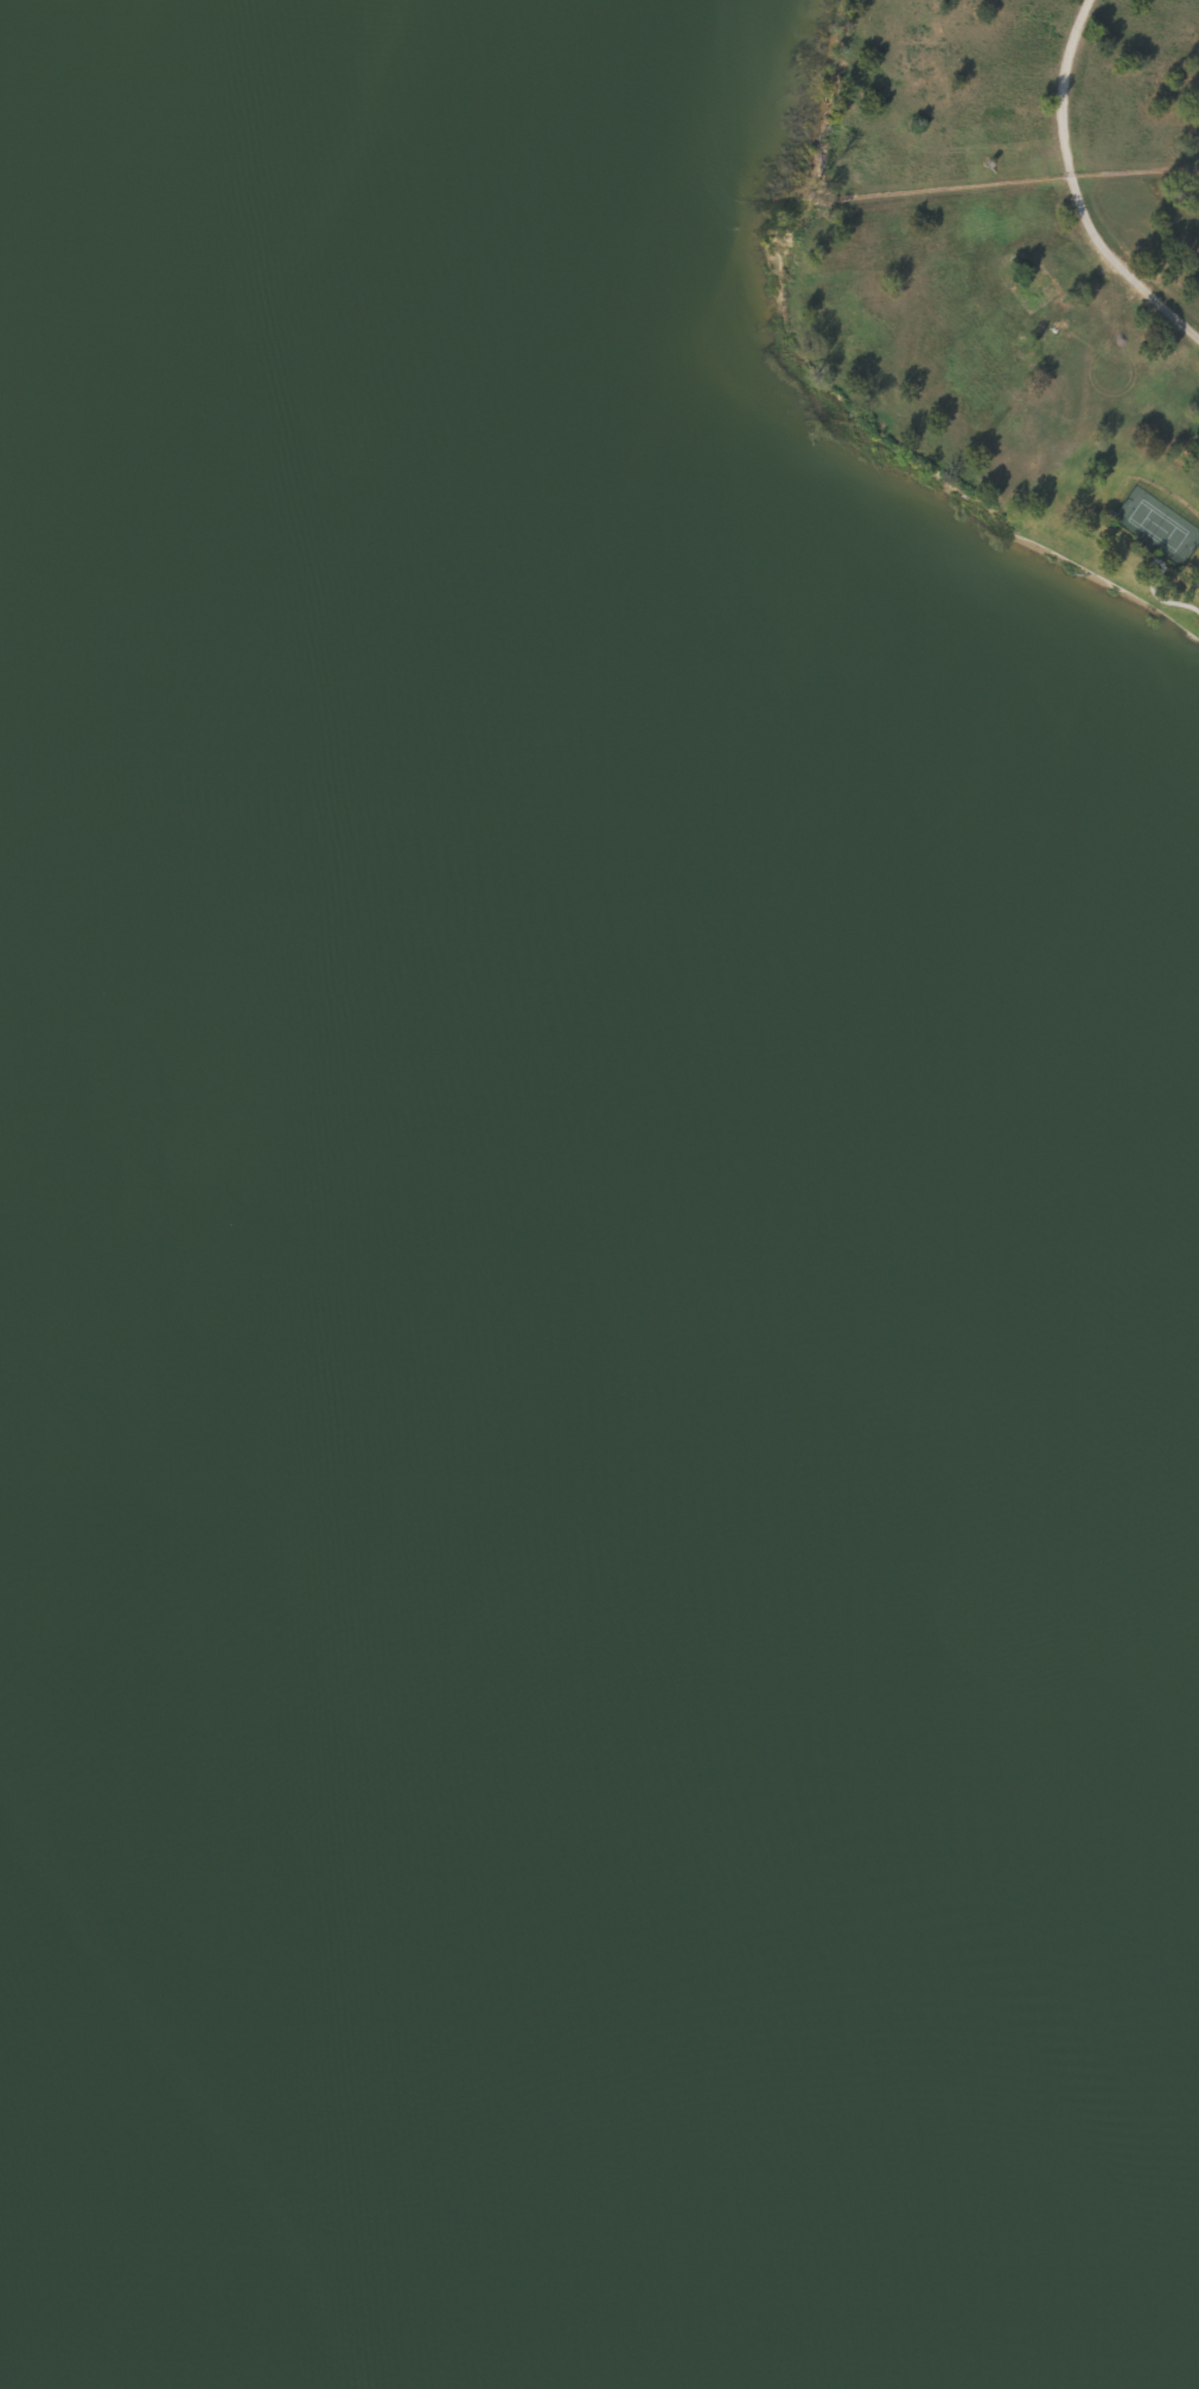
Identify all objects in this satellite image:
road: (1074, 189)
park: (1156, 525)
road: (1153, 560)
road: (1166, 600)
river: (184, 1988)

